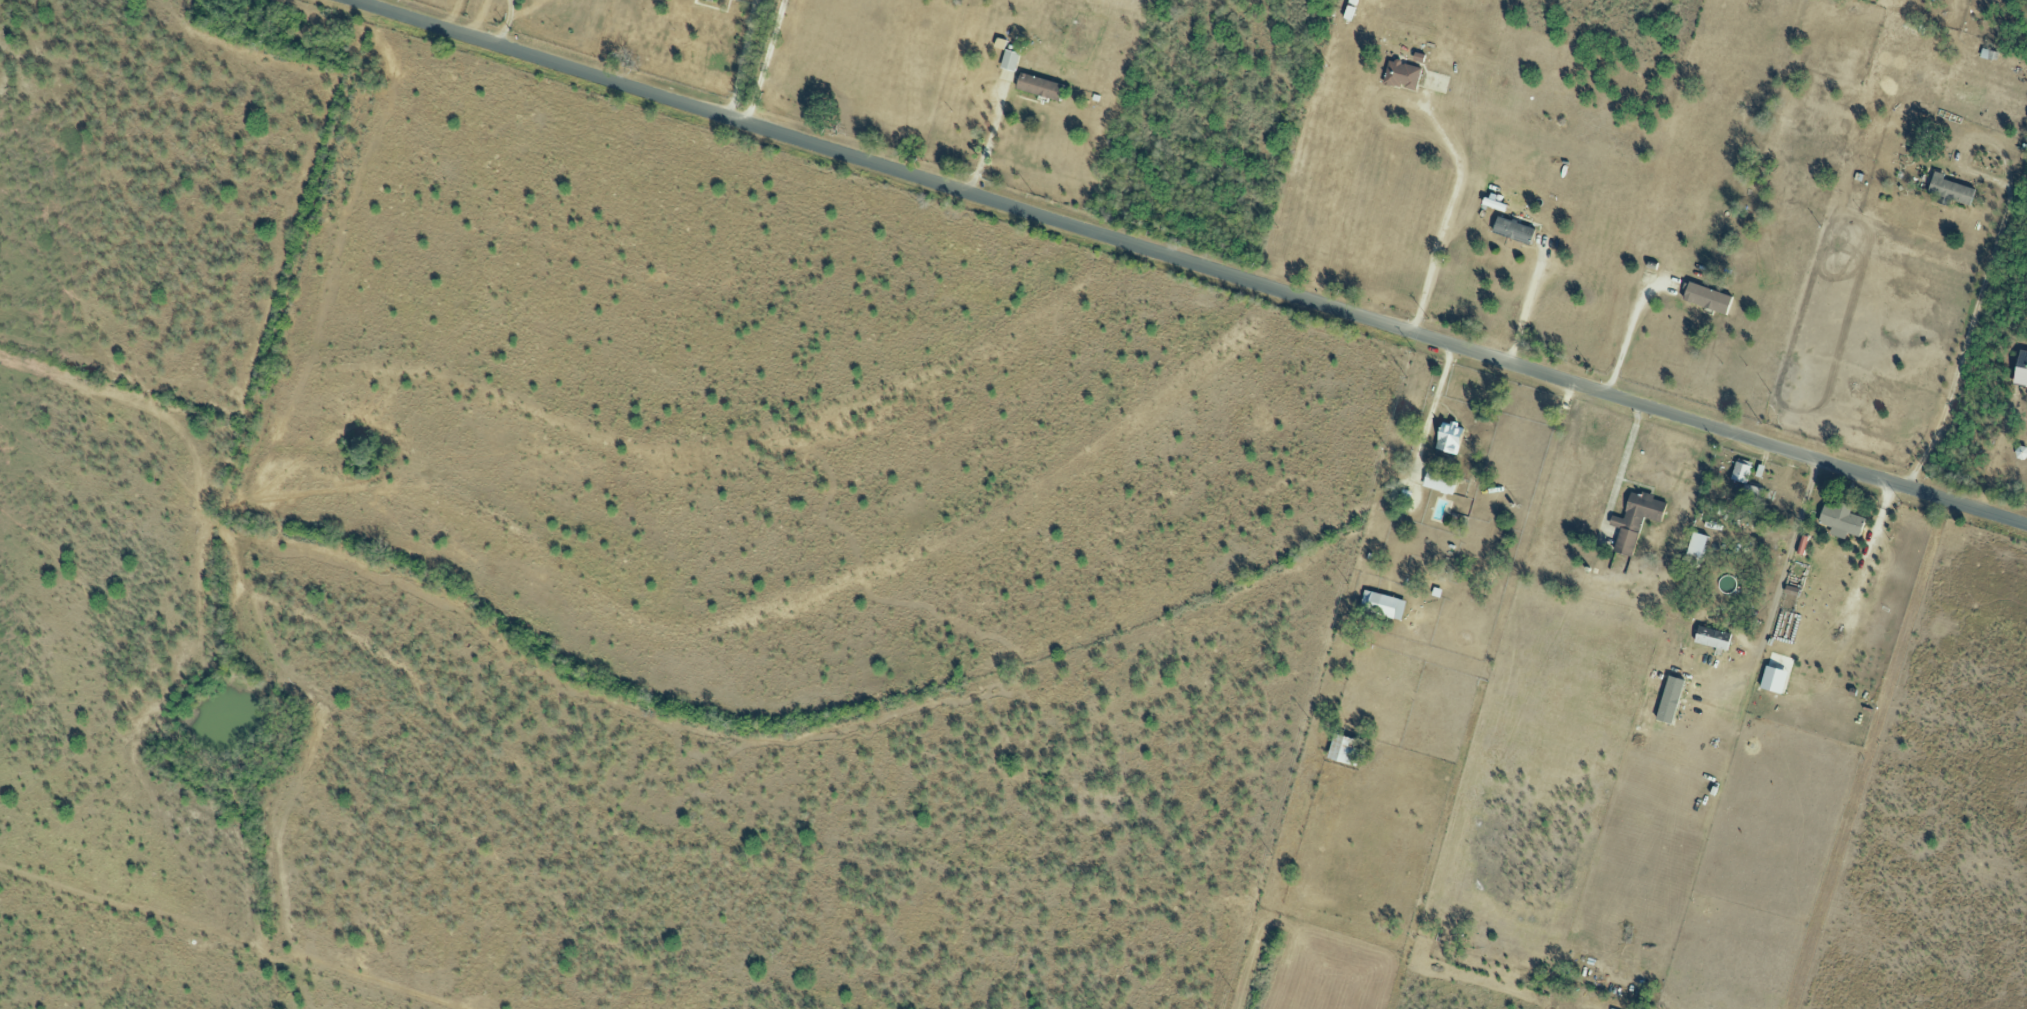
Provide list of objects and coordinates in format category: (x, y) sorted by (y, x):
building: (711, 0)
road: (507, 23)
road: (742, 58)
road: (763, 61)
building: (1008, 61)
building: (1401, 75)
building: (1038, 87)
road: (988, 139)
building: (1949, 189)
road: (1446, 217)
building: (1512, 230)
road: (1190, 263)
road: (1984, 280)
building: (1706, 298)
road: (1524, 307)
road: (1626, 341)
road: (1432, 407)
building: (1448, 438)
road: (1623, 460)
building: (1740, 472)
building: (1438, 481)
building: (1634, 520)
building: (1840, 520)
building: (1695, 548)
road: (1792, 559)
building: (1431, 582)
building: (1381, 605)
building: (1712, 638)
building: (1772, 680)
building: (1343, 749)

